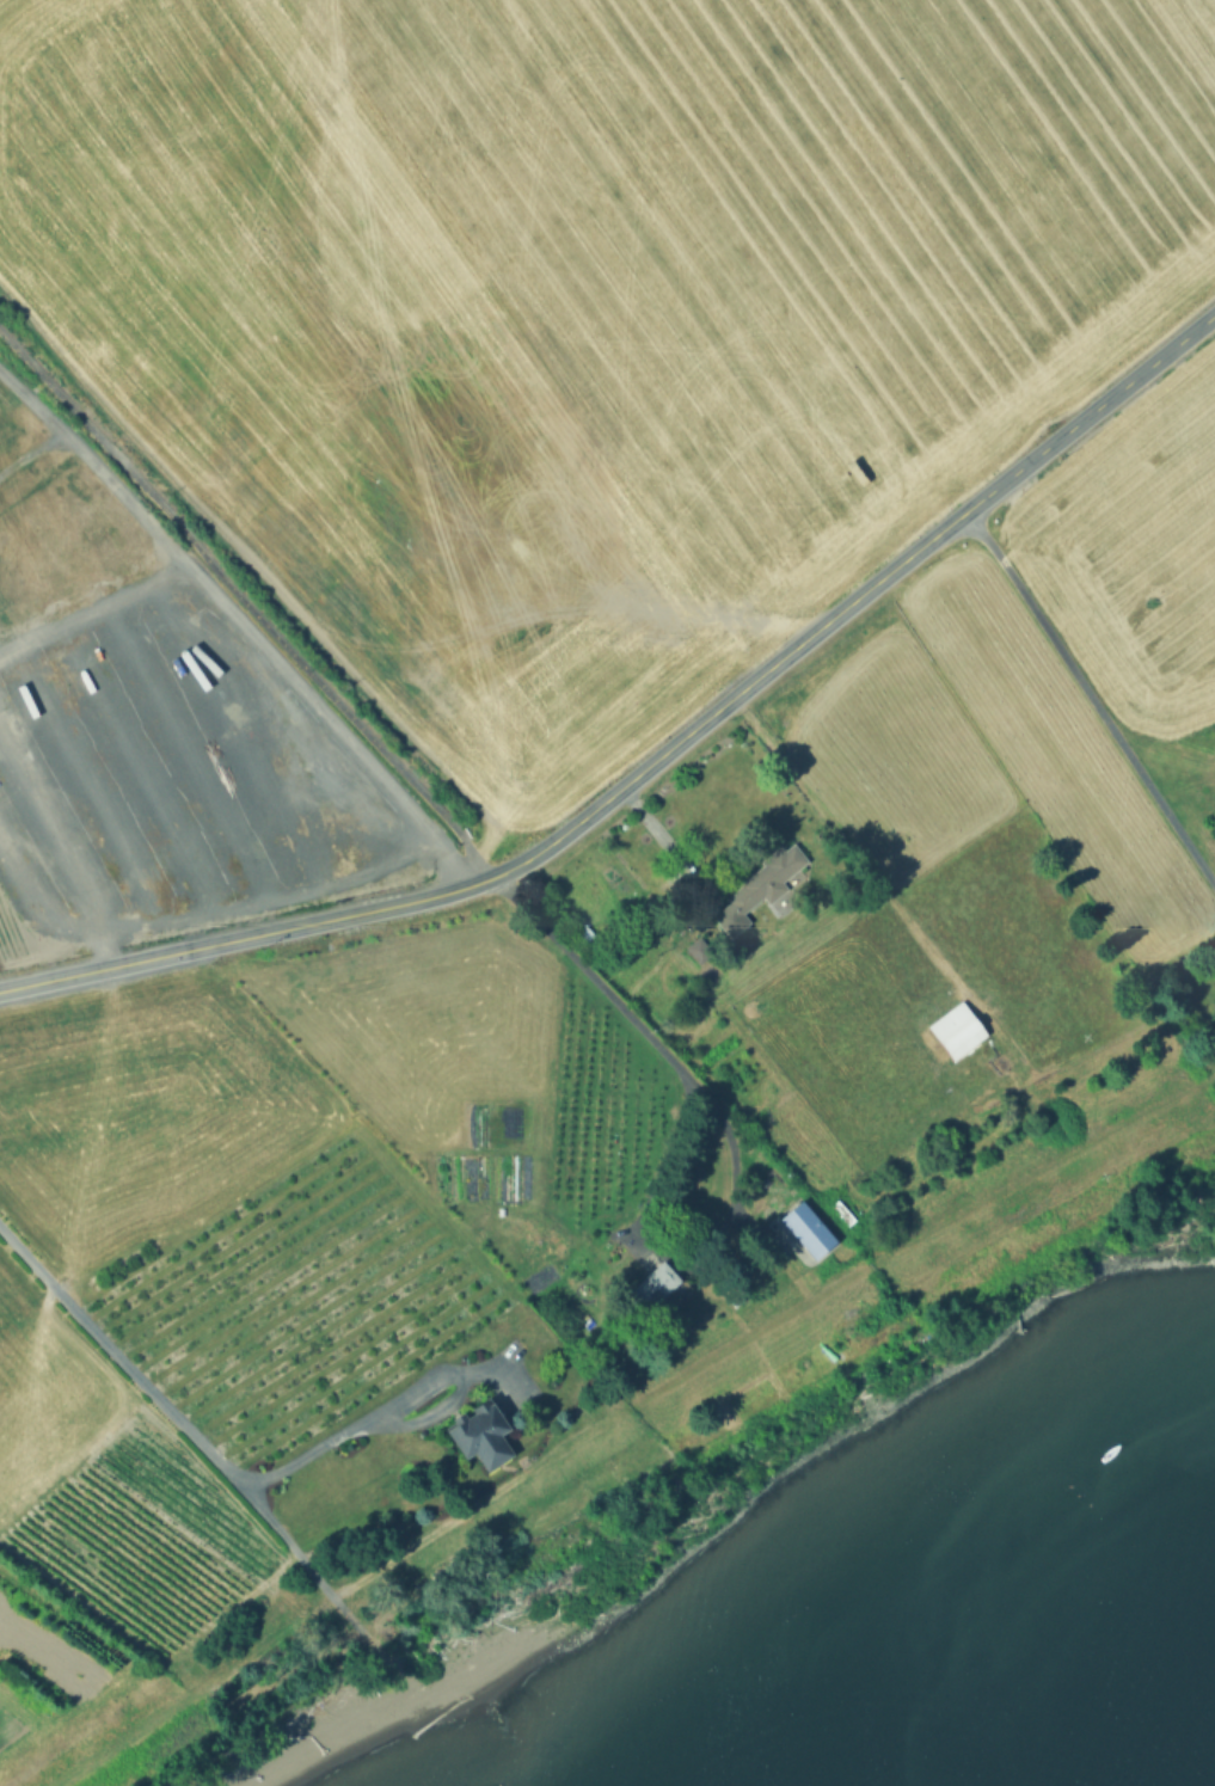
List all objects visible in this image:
crop: (595, 309)
road: (32, 450)
road: (93, 462)
crop: (1135, 547)
road: (885, 578)
road: (246, 607)
road: (259, 647)
road: (1092, 701)
road: (680, 854)
road: (527, 863)
building: (769, 877)
road: (425, 900)
road: (201, 915)
building: (702, 950)
road: (100, 951)
road: (178, 955)
building: (957, 1029)
road: (730, 1135)
building: (843, 1209)
building: (810, 1228)
crop: (259, 1253)
building: (661, 1287)
road: (366, 1414)
road: (422, 1419)
road: (188, 1425)
building: (478, 1430)

